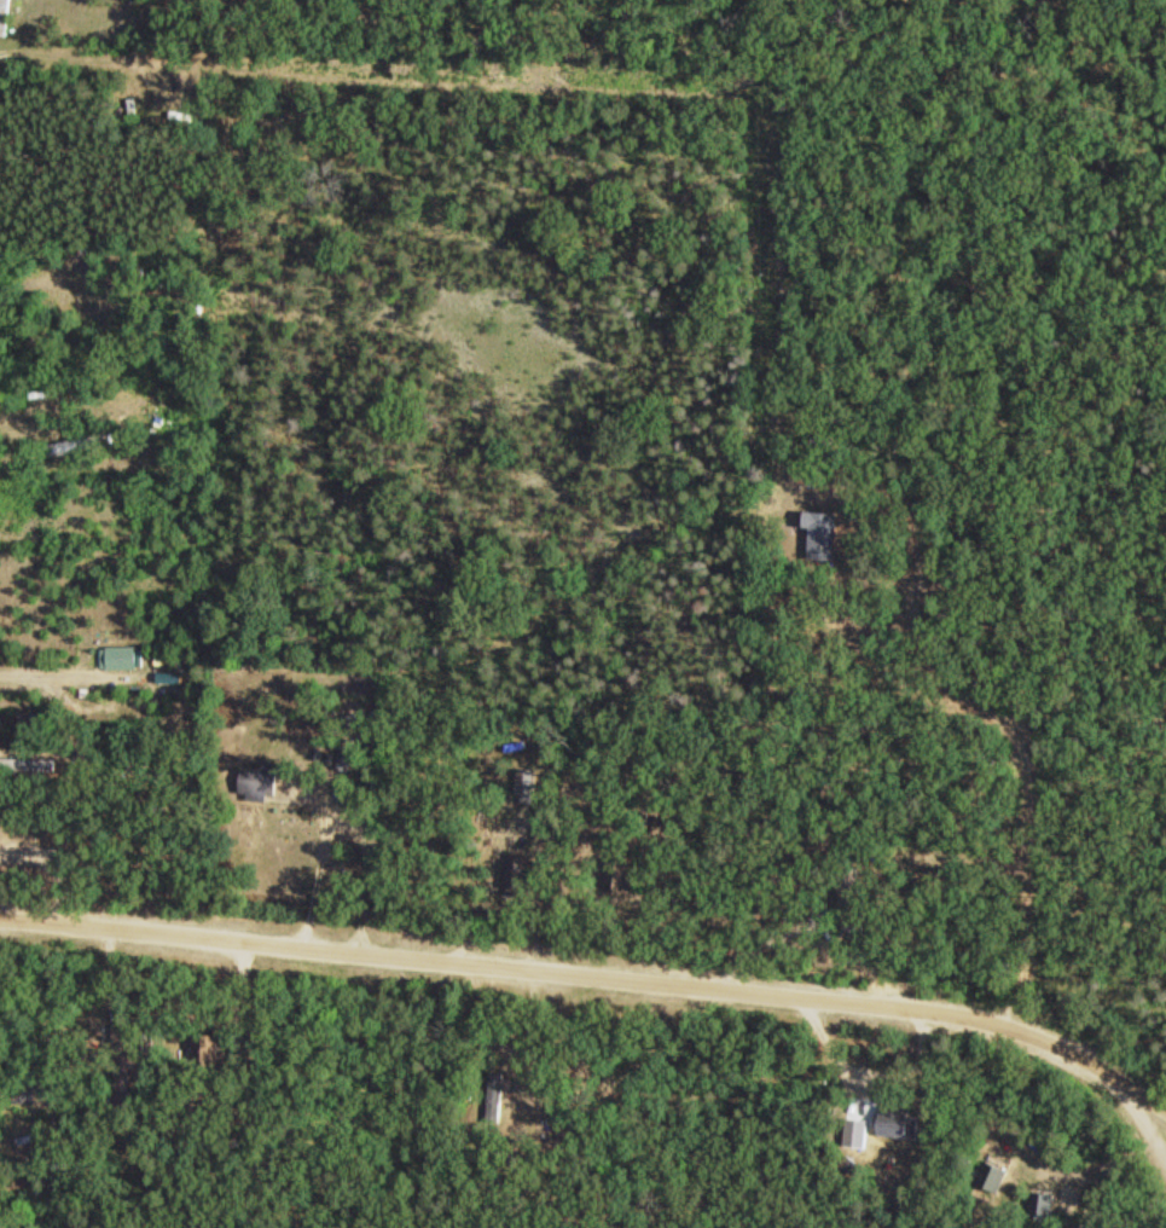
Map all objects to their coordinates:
building: (6, 17)
building: (76, 444)
building: (120, 656)
road: (1026, 778)
road: (111, 967)
road: (596, 977)
building: (104, 1030)
building: (132, 1076)

